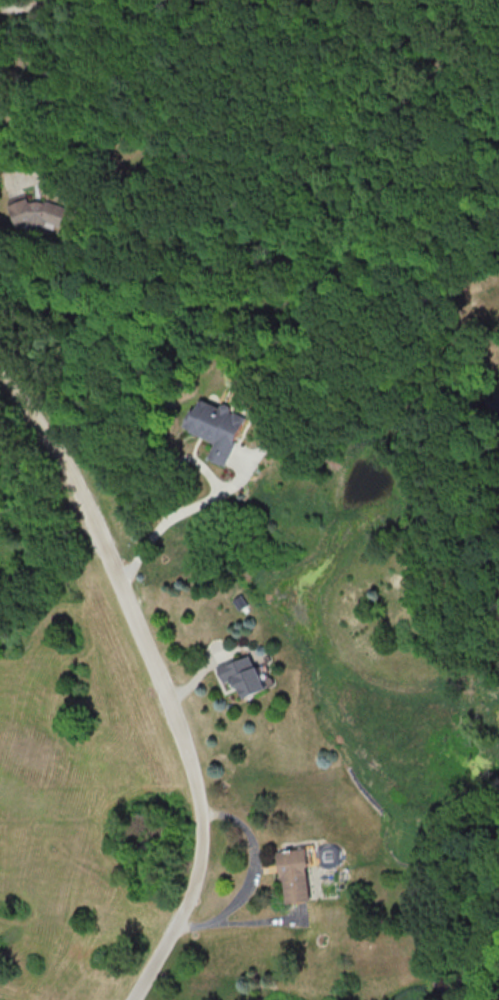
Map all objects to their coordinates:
road: (19, 6)
road: (43, 165)
building: (40, 212)
building: (217, 428)
building: (244, 674)
road: (156, 680)
building: (296, 875)

